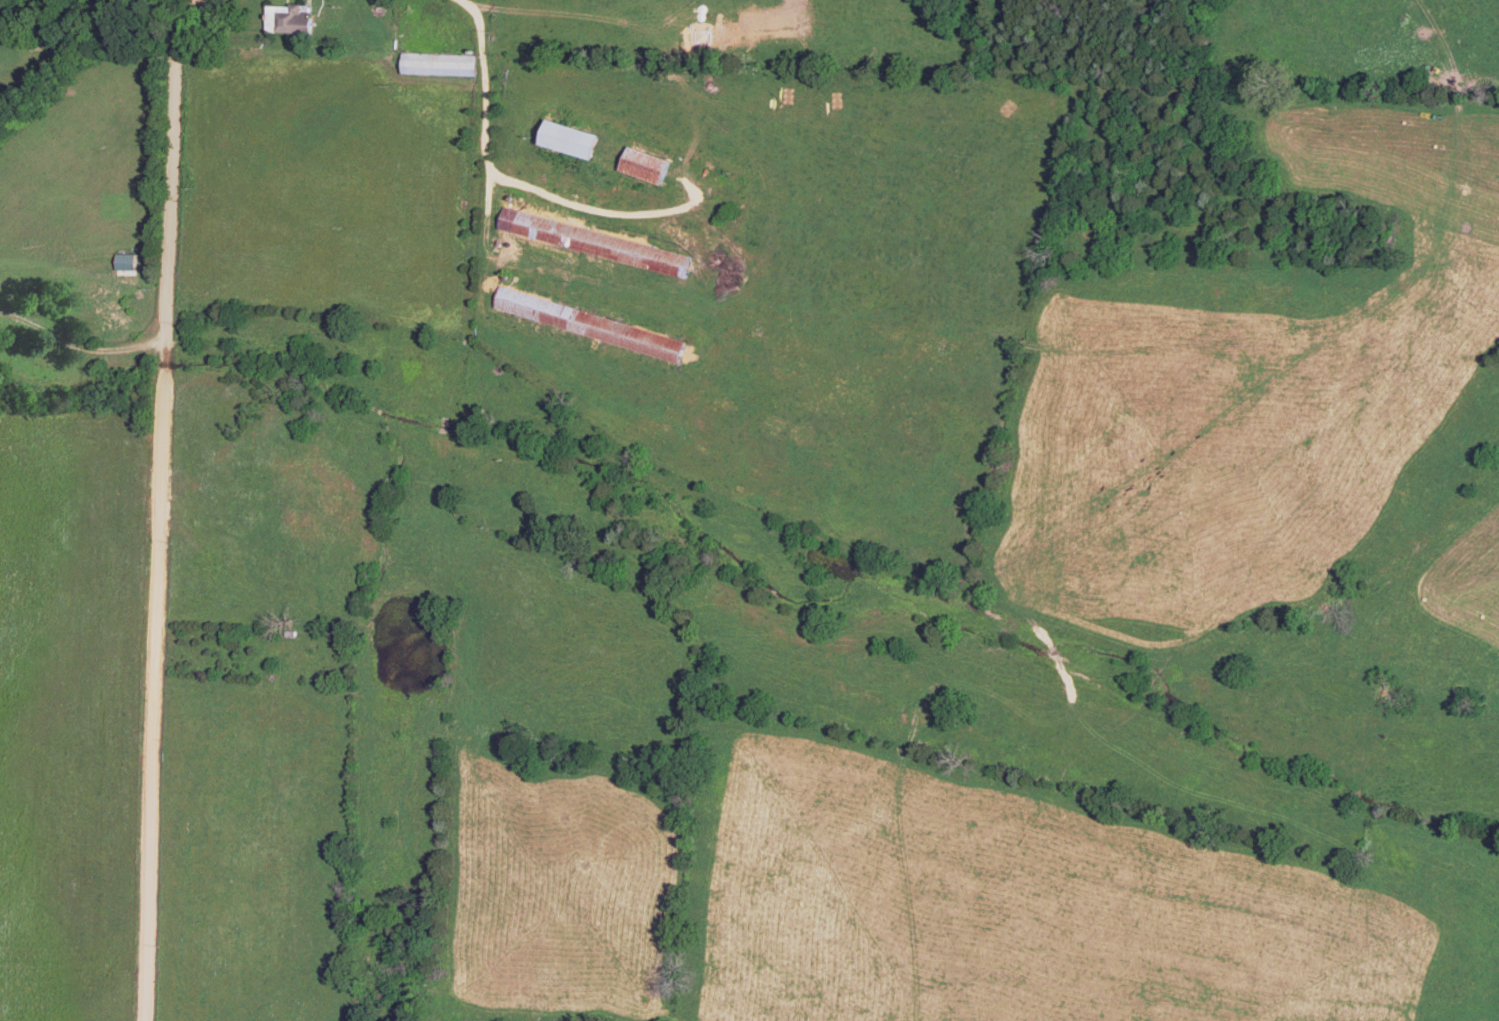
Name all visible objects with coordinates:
building: (437, 64)
building: (572, 139)
building: (646, 165)
building: (588, 324)
road: (176, 499)

